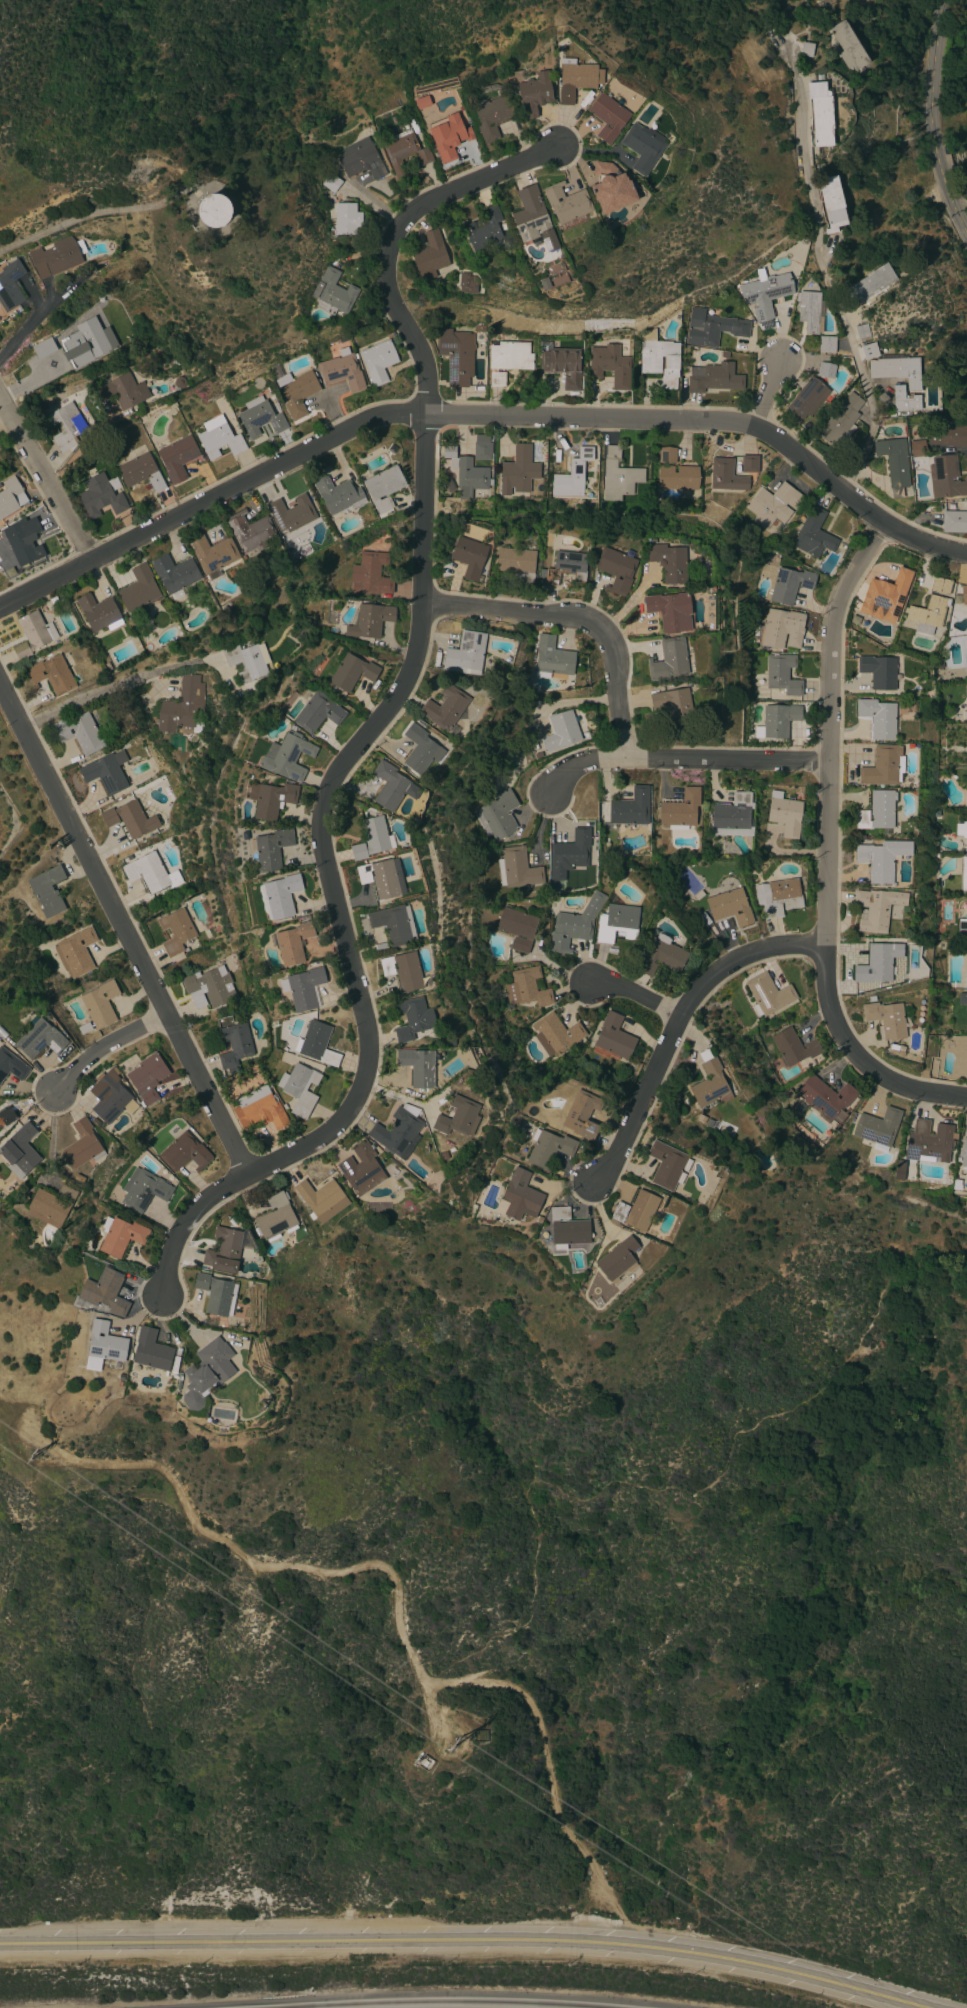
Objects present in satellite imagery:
building: (847, 46)
building: (805, 49)
building: (576, 79)
building: (533, 94)
building: (820, 113)
building: (492, 116)
building: (608, 117)
road: (936, 120)
building: (448, 137)
building: (642, 147)
building: (403, 148)
building: (360, 159)
building: (965, 182)
building: (331, 183)
building: (633, 183)
building: (607, 190)
building: (831, 203)
building: (567, 206)
building: (213, 210)
storage tank: (214, 210)
building: (532, 218)
building: (346, 219)
building: (503, 226)
building: (484, 231)
building: (57, 256)
building: (429, 256)
road: (822, 273)
building: (467, 283)
building: (544, 283)
building: (869, 284)
building: (11, 285)
building: (333, 293)
building: (765, 294)
building: (810, 311)
building: (127, 322)
road: (35, 323)
building: (712, 328)
building: (480, 329)
building: (862, 333)
building: (576, 337)
building: (91, 341)
building: (826, 344)
building: (42, 348)
building: (867, 351)
building: (456, 355)
building: (724, 355)
building: (659, 358)
building: (507, 359)
building: (378, 361)
building: (561, 364)
building: (609, 365)
building: (826, 370)
building: (897, 370)
building: (342, 373)
building: (712, 377)
building: (180, 383)
building: (294, 390)
building: (122, 391)
road: (770, 393)
building: (808, 398)
building: (904, 400)
building: (275, 406)
building: (259, 417)
road: (440, 419)
building: (840, 422)
building: (67, 425)
building: (947, 434)
building: (219, 438)
building: (482, 447)
building: (917, 448)
building: (666, 455)
building: (177, 458)
building: (451, 463)
building: (749, 463)
building: (894, 463)
building: (518, 471)
building: (140, 472)
building: (572, 475)
building: (726, 475)
building: (943, 475)
building: (618, 476)
building: (677, 477)
building: (470, 478)
building: (449, 485)
building: (384, 487)
building: (100, 494)
building: (338, 495)
building: (10, 496)
building: (774, 504)
building: (292, 515)
building: (954, 521)
building: (250, 531)
building: (813, 535)
building: (24, 543)
building: (213, 553)
building: (469, 557)
building: (6, 559)
building: (668, 562)
building: (517, 564)
building: (564, 569)
building: (616, 569)
building: (174, 574)
building: (370, 574)
park: (2, 583)
road: (44, 585)
building: (789, 585)
building: (940, 585)
building: (138, 588)
building: (885, 596)
building: (964, 597)
building: (53, 600)
building: (670, 611)
building: (99, 613)
building: (928, 614)
building: (370, 620)
road: (582, 622)
building: (782, 628)
building: (32, 634)
building: (966, 643)
building: (465, 653)
building: (552, 658)
building: (668, 660)
building: (245, 661)
building: (938, 663)
building: (107, 666)
building: (878, 671)
building: (352, 672)
building: (51, 674)
building: (782, 674)
road: (111, 684)
building: (966, 697)
building: (673, 704)
building: (181, 707)
building: (445, 707)
building: (704, 711)
building: (318, 712)
building: (877, 718)
road: (381, 721)
building: (777, 721)
building: (560, 731)
building: (79, 732)
building: (952, 745)
building: (420, 750)
building: (286, 756)
road: (683, 763)
building: (883, 766)
building: (106, 772)
building: (391, 786)
building: (270, 799)
building: (965, 799)
building: (630, 808)
park: (20, 809)
building: (680, 810)
building: (877, 812)
building: (731, 814)
building: (784, 814)
building: (936, 814)
building: (497, 815)
building: (130, 819)
building: (962, 832)
building: (370, 838)
road: (827, 848)
building: (271, 849)
building: (571, 849)
building: (881, 859)
building: (519, 868)
building: (147, 872)
building: (964, 873)
building: (382, 878)
building: (939, 884)
building: (47, 890)
building: (281, 895)
building: (778, 897)
building: (730, 907)
building: (876, 908)
building: (617, 923)
road: (125, 924)
building: (394, 924)
building: (574, 924)
building: (962, 926)
building: (517, 928)
building: (175, 932)
building: (207, 934)
building: (939, 936)
building: (293, 943)
building: (75, 952)
building: (662, 956)
building: (879, 965)
building: (403, 970)
building: (209, 987)
building: (303, 988)
building: (526, 988)
road: (635, 993)
building: (768, 994)
building: (962, 999)
building: (99, 1004)
building: (413, 1018)
building: (887, 1019)
road: (679, 1025)
building: (84, 1028)
building: (555, 1034)
building: (40, 1039)
building: (612, 1039)
building: (452, 1042)
building: (316, 1043)
building: (234, 1045)
building: (792, 1047)
road: (106, 1048)
building: (900, 1048)
building: (11, 1065)
building: (418, 1066)
building: (924, 1072)
building: (147, 1077)
building: (709, 1082)
building: (299, 1088)
building: (788, 1094)
building: (110, 1097)
building: (826, 1099)
building: (260, 1112)
building: (581, 1113)
building: (6, 1116)
building: (458, 1117)
building: (700, 1118)
building: (877, 1128)
building: (397, 1134)
building: (928, 1142)
building: (82, 1145)
building: (549, 1148)
building: (963, 1150)
building: (19, 1151)
building: (184, 1153)
building: (443, 1156)
building: (667, 1165)
building: (361, 1169)
building: (143, 1189)
building: (1, 1193)
building: (518, 1197)
building: (321, 1199)
building: (51, 1205)
building: (636, 1211)
building: (275, 1218)
building: (539, 1220)
building: (567, 1229)
building: (120, 1236)
building: (30, 1245)
building: (224, 1251)
building: (617, 1258)
building: (105, 1291)
building: (216, 1294)
building: (880, 1344)
building: (103, 1345)
building: (150, 1351)
building: (206, 1372)
building: (121, 1377)
building: (260, 1405)
park: (549, 1437)
power tower: (33, 1459)
road: (398, 1612)
road: (433, 1717)
power tower: (455, 1745)
road: (464, 1939)

